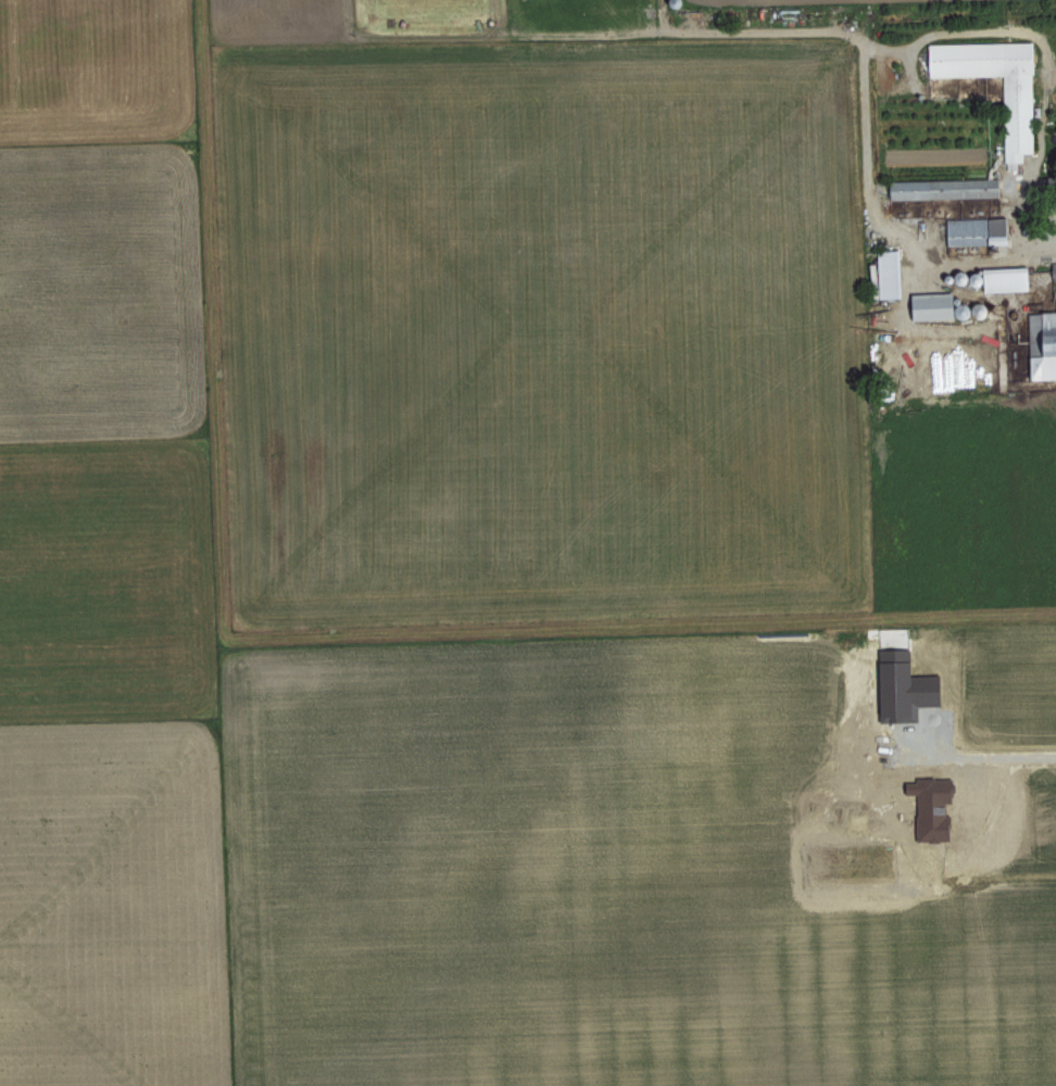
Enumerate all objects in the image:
building: (1016, 113)
road: (1028, 175)
building: (941, 188)
building: (1054, 192)
building: (975, 230)
building: (885, 273)
building: (1053, 273)
building: (1002, 278)
building: (928, 305)
building: (1042, 344)
road: (990, 756)

